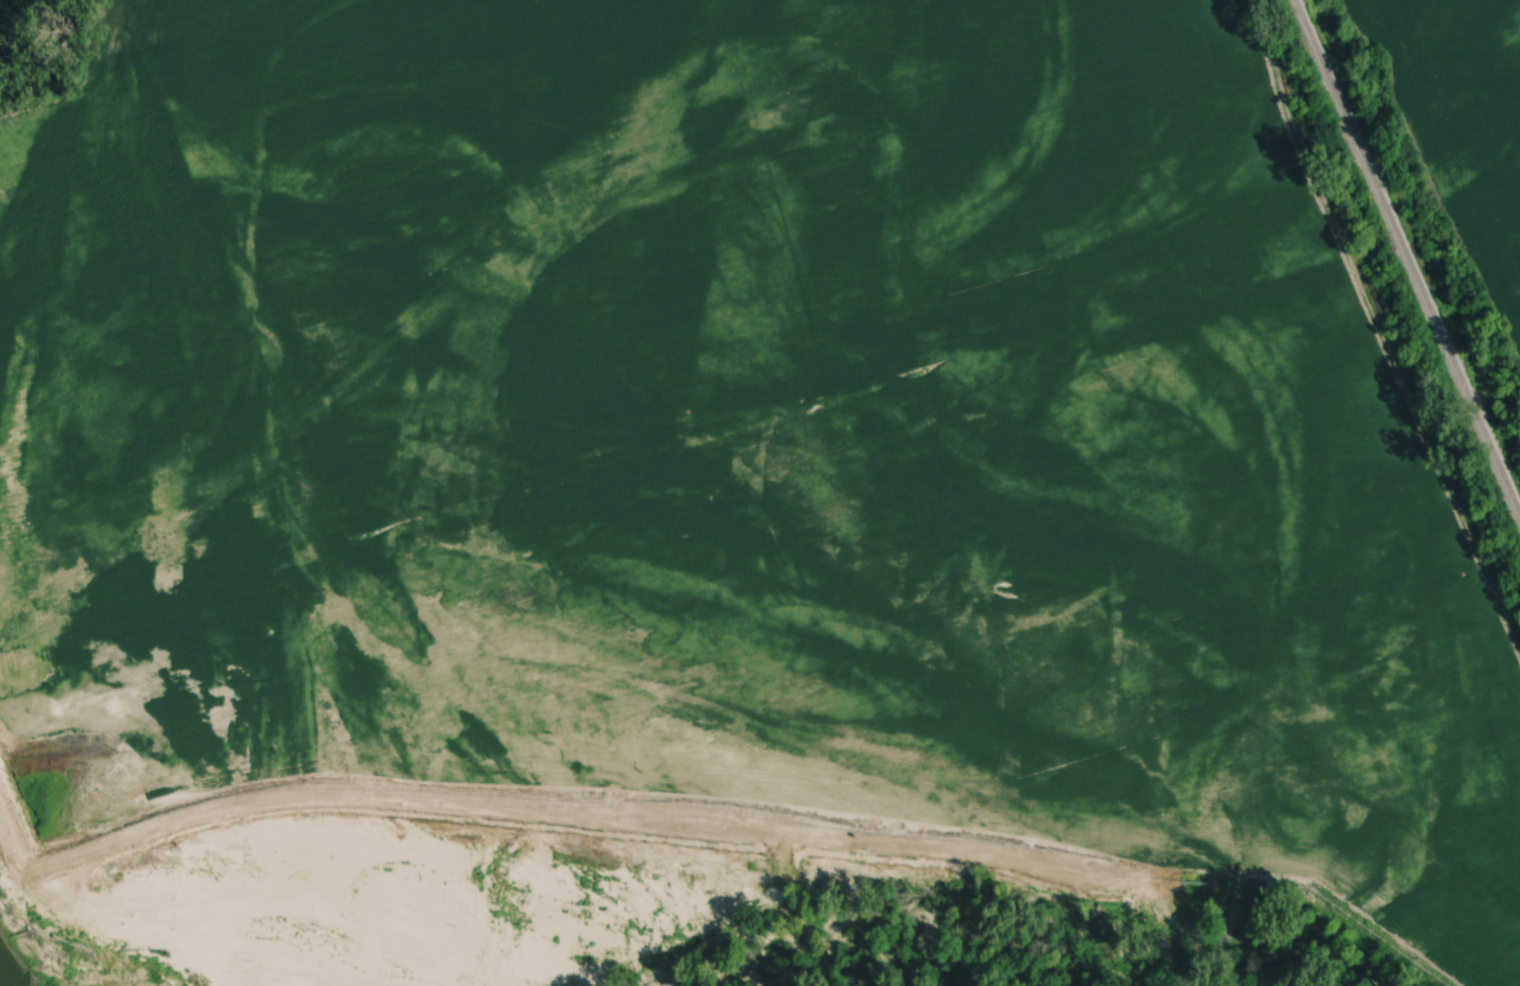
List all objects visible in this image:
railway: (1407, 255)

